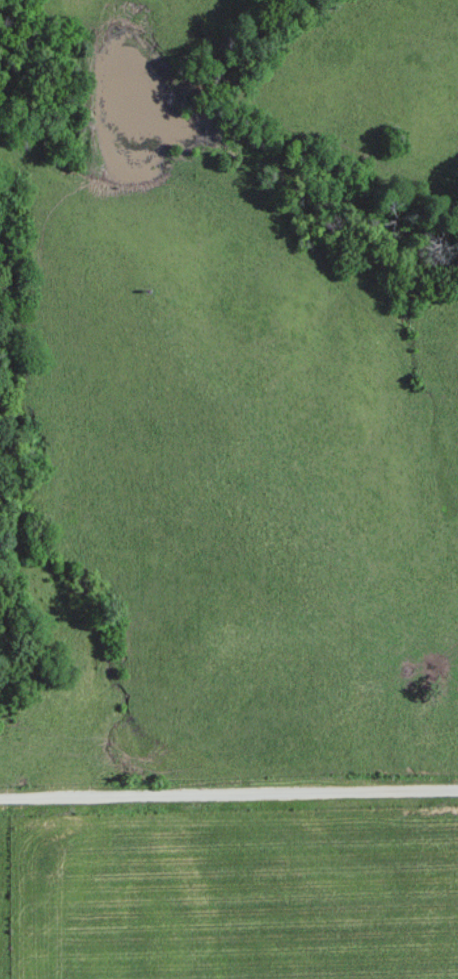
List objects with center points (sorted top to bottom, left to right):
road: (229, 798)

